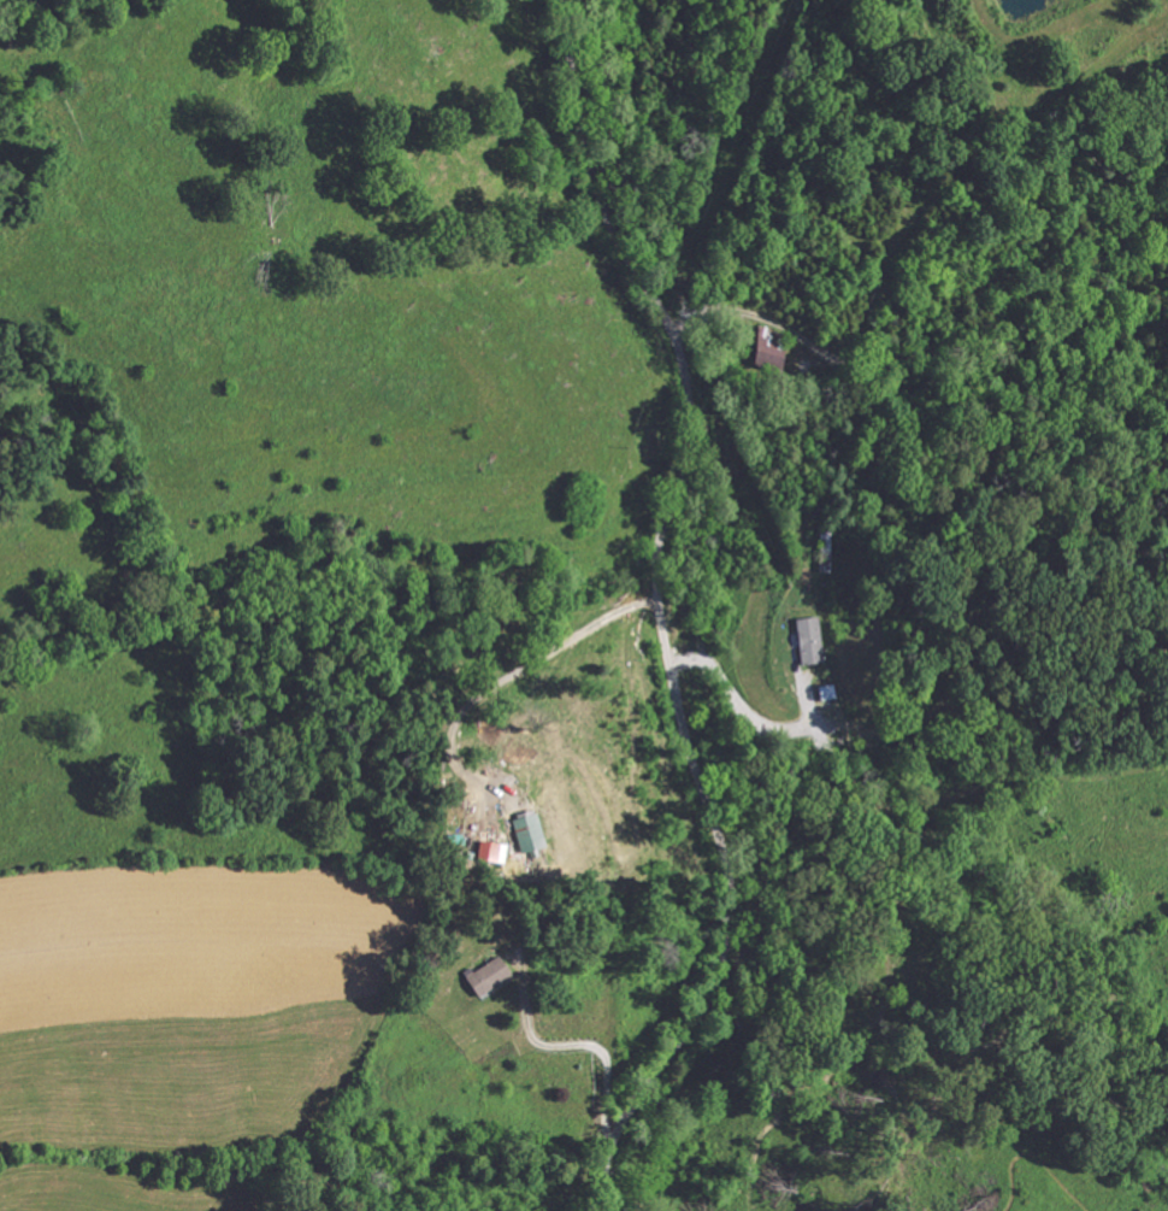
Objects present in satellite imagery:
building: (754, 348)
road: (329, 581)
road: (661, 612)
building: (801, 639)
road: (514, 670)
building: (818, 689)
road: (747, 711)
building: (482, 850)
building: (479, 974)
road: (574, 1046)

